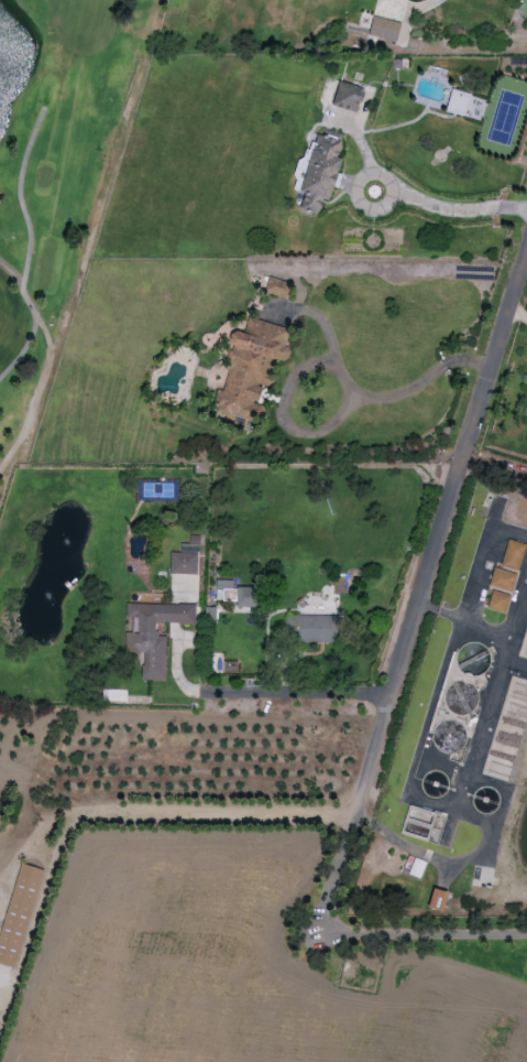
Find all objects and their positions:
building: (384, 29)
building: (348, 97)
building: (320, 173)
park: (56, 182)
road: (20, 195)
road: (405, 197)
building: (276, 286)
road: (518, 314)
road: (23, 348)
road: (46, 361)
building: (250, 370)
road: (365, 395)
building: (513, 554)
road: (482, 555)
building: (185, 560)
building: (502, 579)
road: (425, 595)
building: (249, 596)
building: (498, 602)
road: (465, 622)
building: (312, 628)
building: (154, 633)
road: (265, 693)
wastewater plant: (462, 738)
park: (151, 781)
road: (465, 791)
building: (420, 822)
building: (437, 899)
building: (18, 913)
road: (424, 933)

